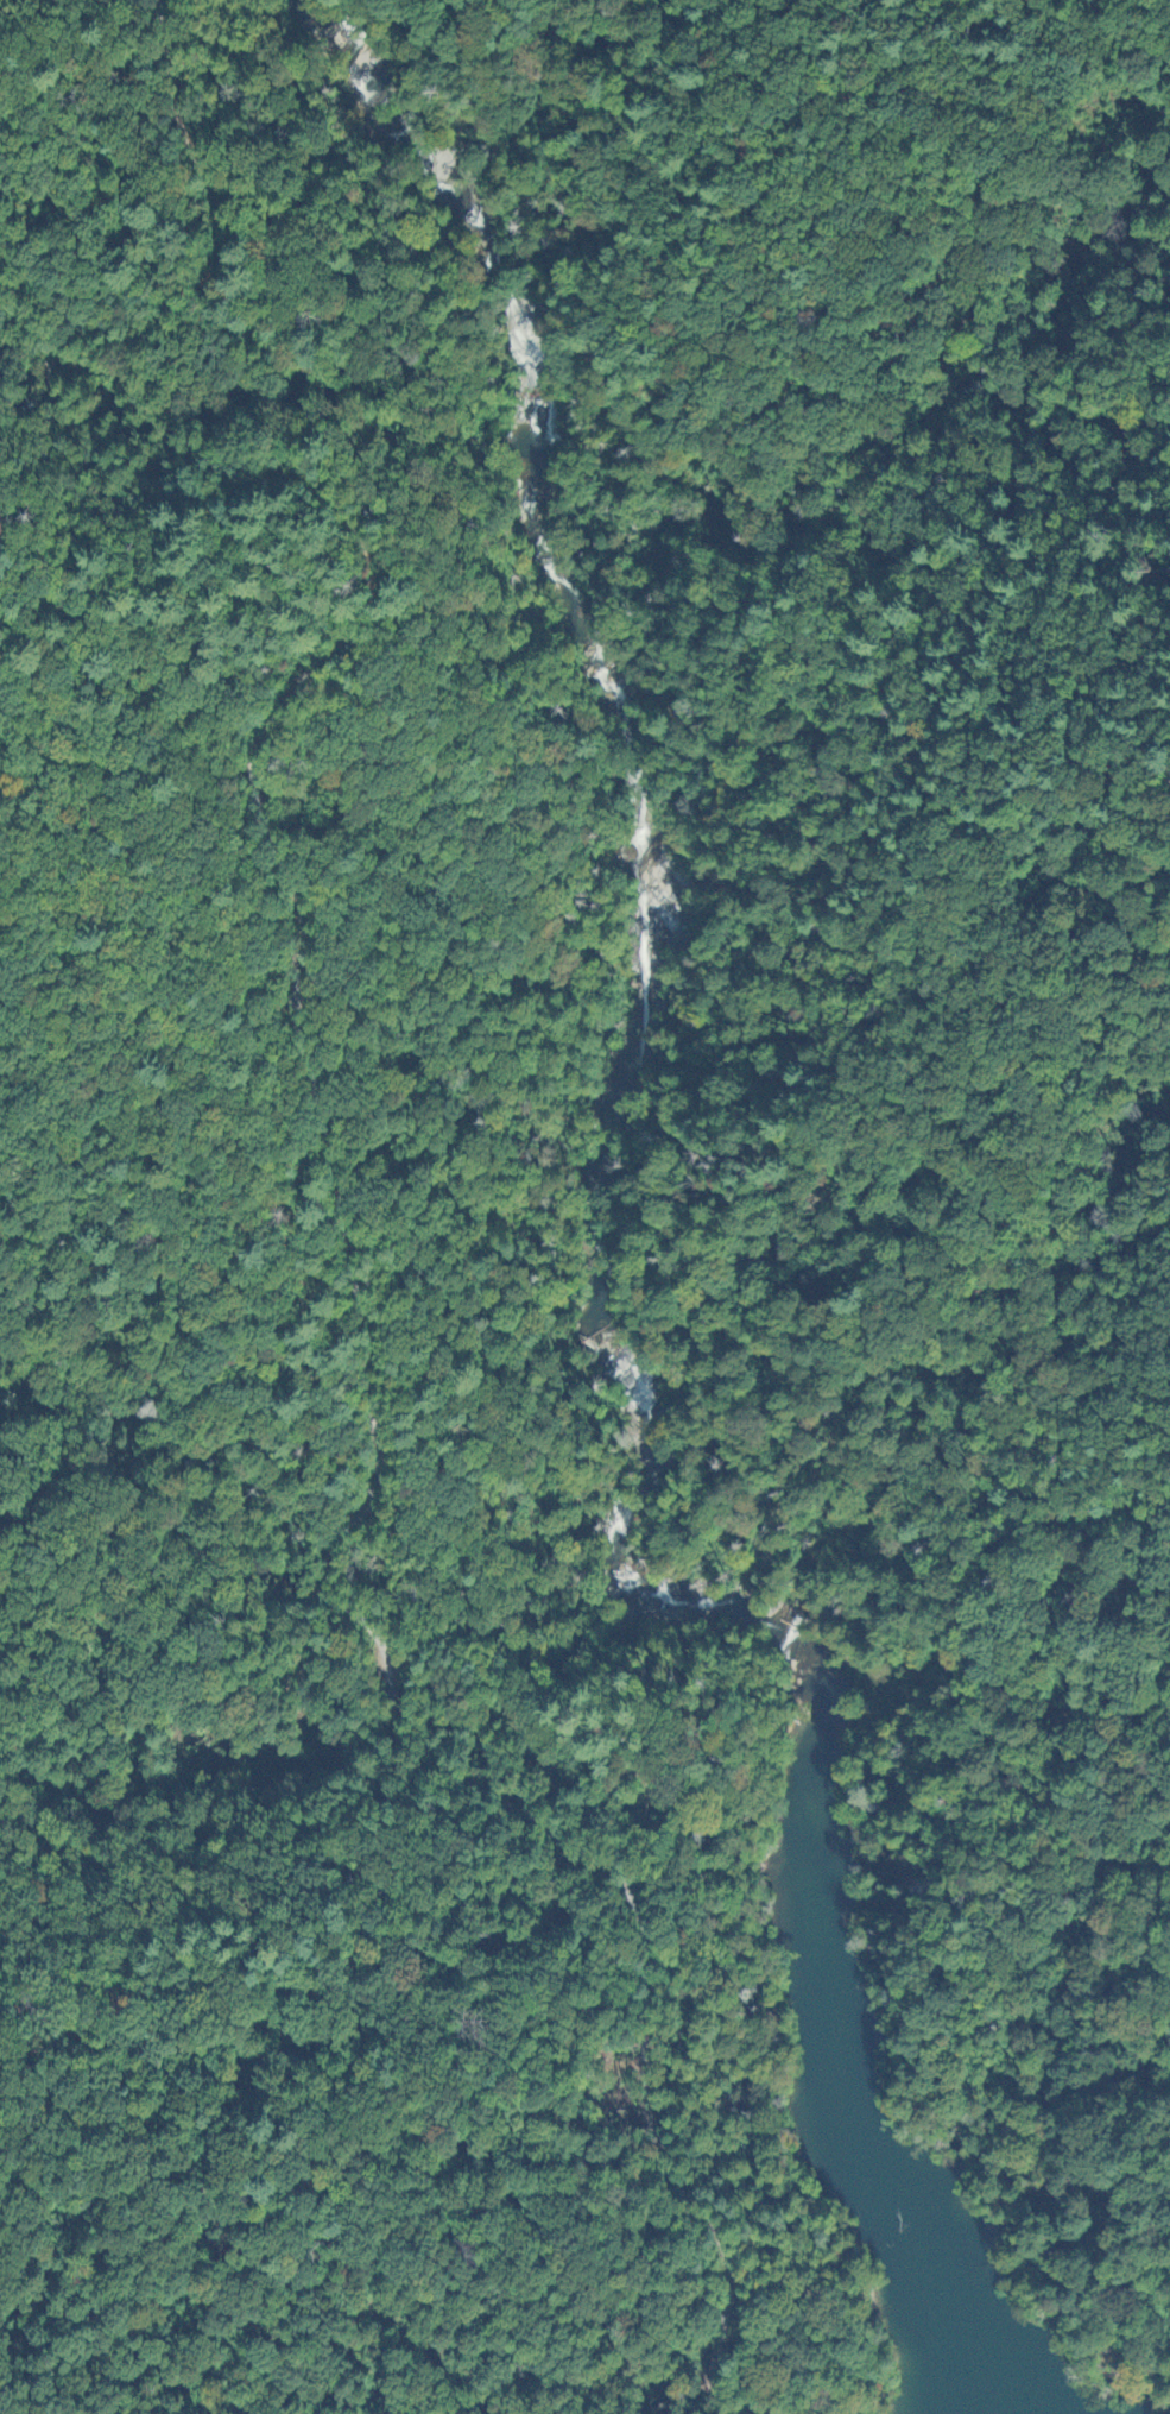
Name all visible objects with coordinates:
river: (646, 868)
road: (302, 1048)
road: (727, 2364)

